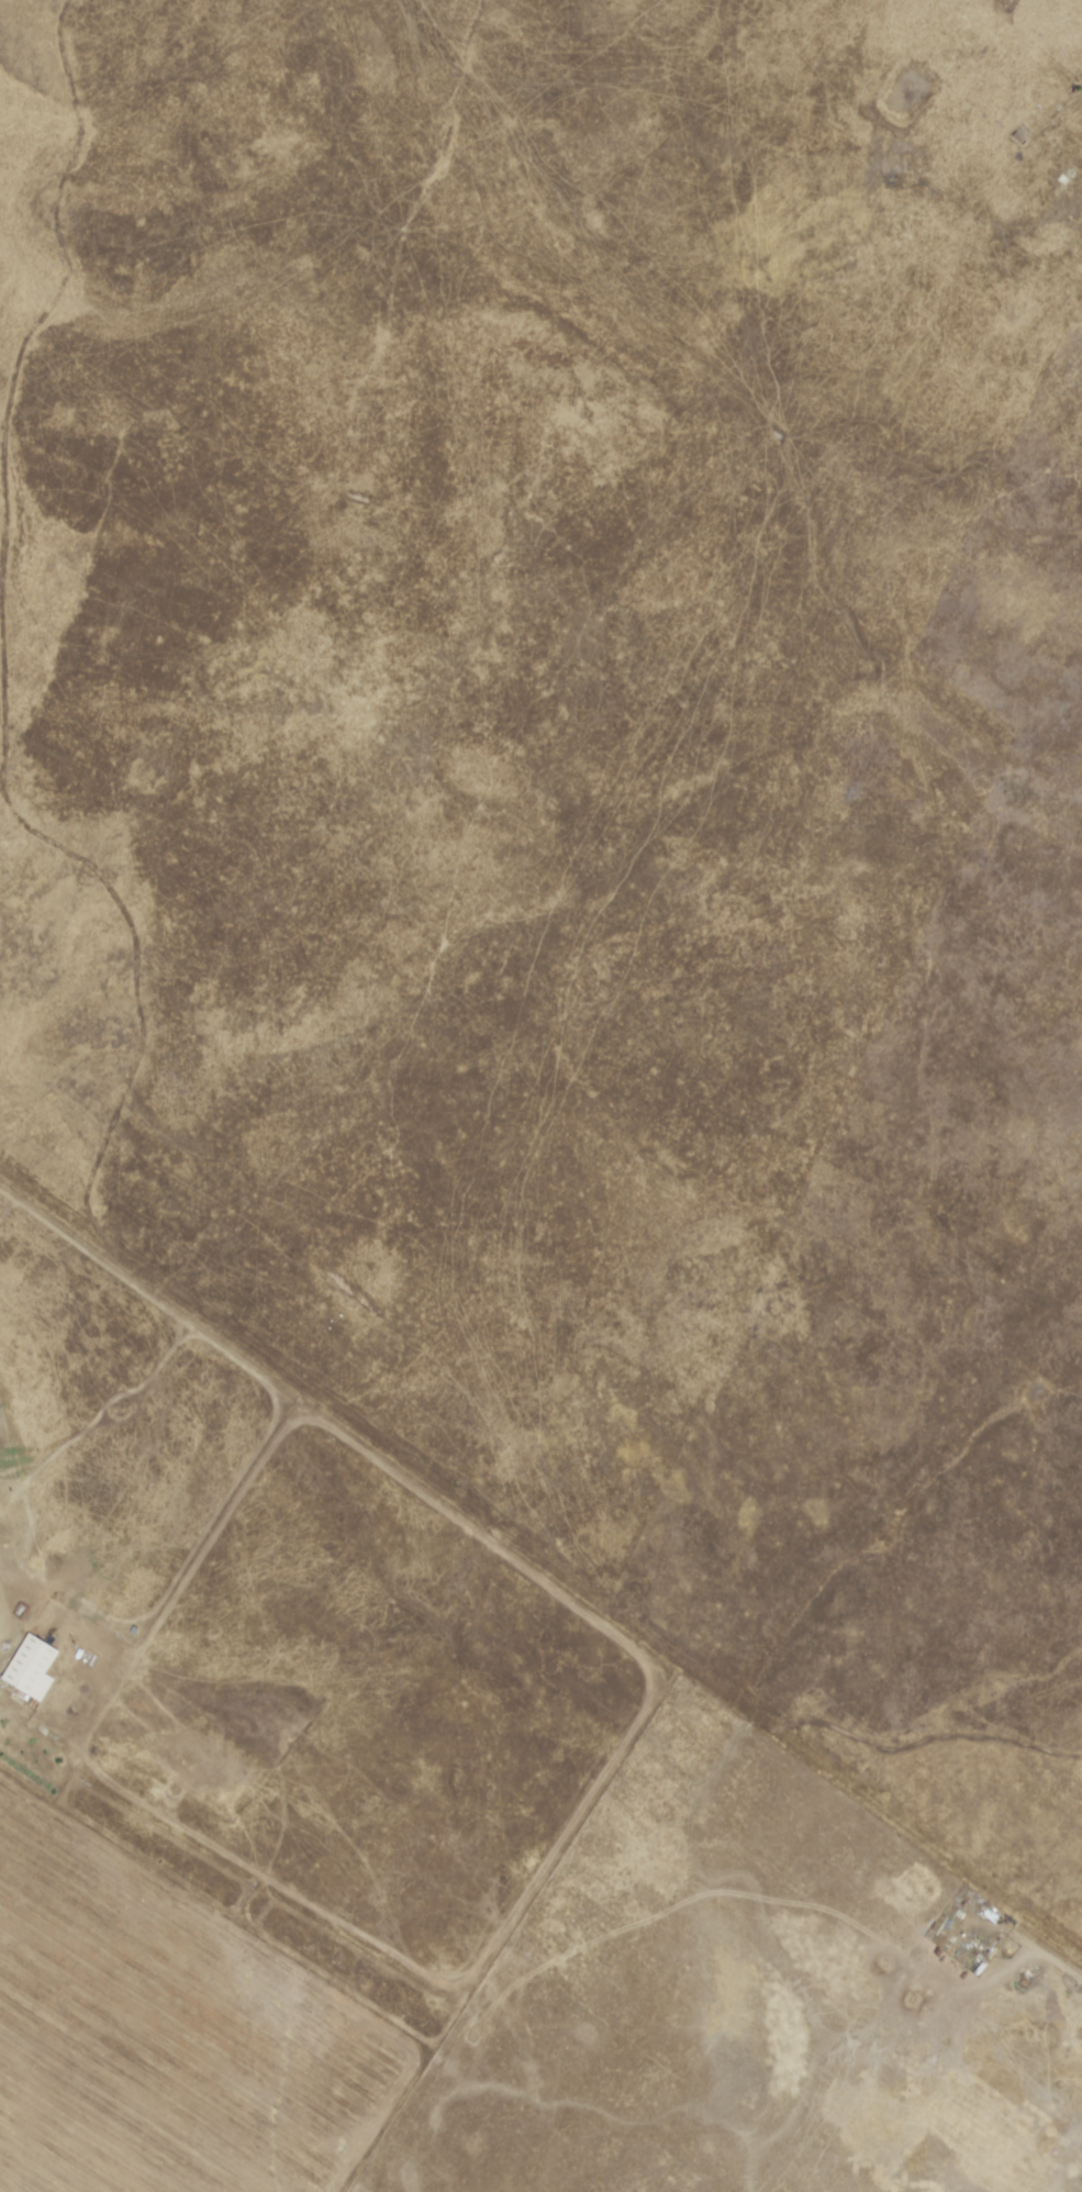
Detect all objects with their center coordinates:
building: (29, 1667)

